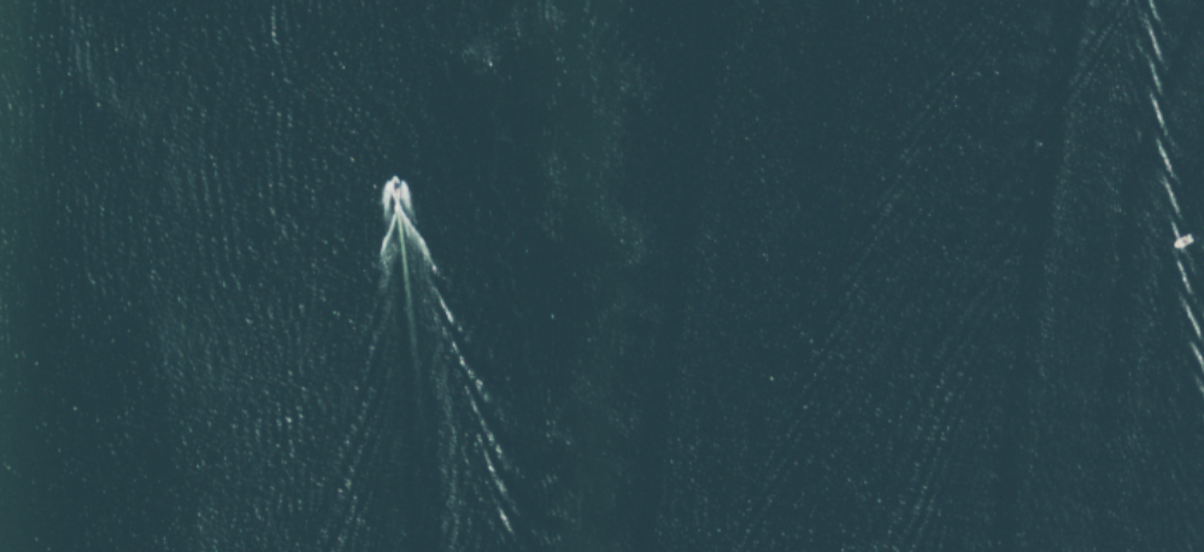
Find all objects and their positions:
river: (636, 276)

